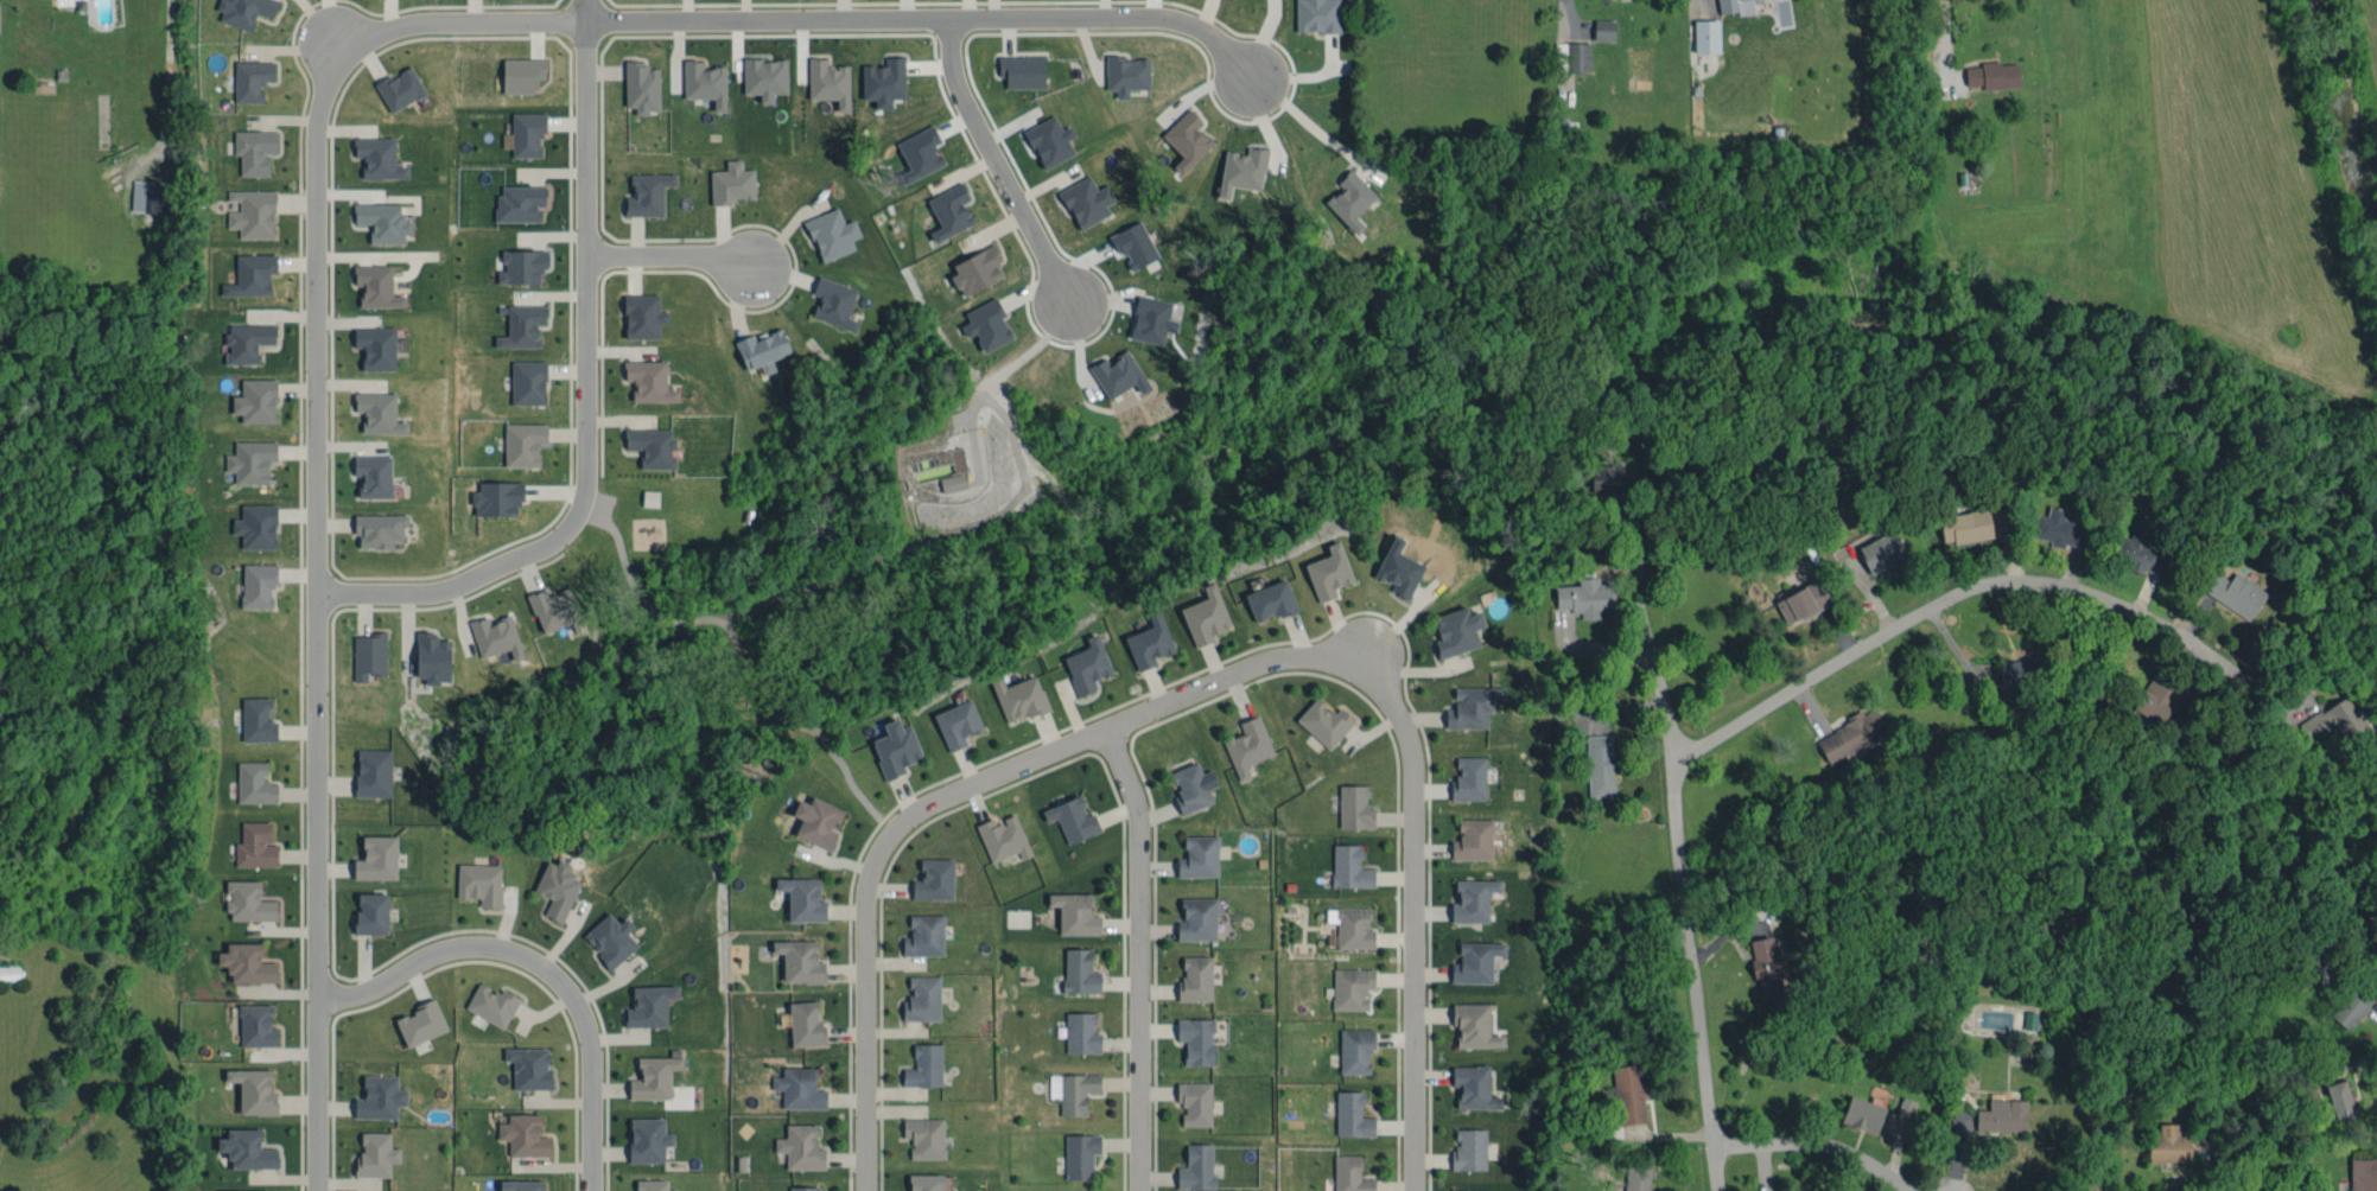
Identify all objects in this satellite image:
road: (1699, 4)
building: (1733, 5)
building: (241, 9)
road: (577, 11)
building: (1314, 13)
building: (1600, 25)
building: (1703, 32)
building: (1574, 52)
road: (165, 66)
building: (1018, 66)
building: (1123, 70)
building: (519, 71)
building: (761, 74)
building: (247, 76)
building: (881, 77)
building: (701, 78)
building: (825, 78)
building: (638, 83)
building: (396, 84)
road: (1304, 119)
building: (523, 129)
building: (1183, 135)
building: (1047, 138)
building: (250, 147)
road: (316, 148)
building: (916, 149)
building: (375, 154)
road: (990, 165)
building: (1239, 166)
building: (729, 179)
building: (643, 190)
building: (144, 191)
building: (1083, 197)
building: (1348, 197)
building: (516, 199)
building: (947, 206)
building: (249, 209)
building: (379, 218)
building: (828, 230)
building: (1131, 242)
road: (673, 256)
building: (517, 262)
building: (973, 266)
building: (247, 270)
building: (374, 282)
building: (831, 299)
building: (640, 312)
building: (1149, 317)
building: (984, 320)
building: (519, 323)
building: (243, 337)
building: (373, 344)
building: (760, 345)
building: (1116, 370)
building: (646, 377)
building: (525, 378)
building: (252, 397)
road: (579, 407)
building: (375, 409)
building: (520, 439)
building: (648, 442)
building: (247, 457)
building: (370, 472)
building: (1604, 473)
building: (949, 478)
building: (494, 495)
building: (647, 495)
building: (253, 522)
building: (1964, 523)
building: (2057, 524)
building: (375, 526)
building: (1880, 548)
building: (2140, 550)
building: (1396, 565)
building: (1326, 568)
building: (254, 582)
building: (2232, 590)
building: (1583, 593)
building: (1267, 597)
building: (1800, 598)
building: (551, 605)
road: (1936, 607)
building: (1202, 612)
building: (1454, 628)
building: (492, 633)
building: (1146, 638)
building: (364, 651)
building: (430, 655)
building: (1083, 662)
building: (2014, 668)
building: (1016, 694)
road: (1164, 698)
building: (2154, 698)
building: (1468, 703)
building: (254, 715)
building: (2334, 716)
building: (1321, 719)
building: (954, 720)
building: (1847, 731)
building: (1244, 743)
building: (892, 745)
building: (1596, 762)
building: (369, 769)
building: (1466, 776)
building: (250, 781)
building: (1189, 784)
building: (1352, 803)
building: (1069, 816)
building: (813, 819)
building: (1000, 834)
building: (1469, 836)
building: (252, 842)
building: (1195, 853)
building: (371, 855)
building: (1346, 864)
building: (930, 877)
building: (476, 879)
building: (553, 885)
building: (800, 896)
building: (1470, 896)
building: (244, 898)
building: (368, 910)
building: (1072, 911)
building: (1194, 915)
building: (1348, 923)
road: (1691, 926)
building: (921, 932)
building: (608, 936)
road: (1138, 955)
building: (796, 957)
building: (1472, 958)
building: (243, 960)
road: (1407, 961)
building: (1763, 963)
road: (538, 966)
building: (7, 968)
building: (1076, 968)
building: (1191, 975)
building: (1348, 985)
building: (919, 995)
road: (862, 999)
building: (488, 1001)
building: (646, 1002)
building: (2347, 1005)
building: (418, 1019)
building: (802, 1020)
building: (253, 1023)
building: (1472, 1024)
building: (1078, 1030)
building: (1193, 1037)
building: (1352, 1046)
building: (921, 1063)
building: (526, 1064)
building: (650, 1074)
building: (1470, 1084)
building: (795, 1085)
building: (250, 1087)
building: (1069, 1088)
building: (1626, 1091)
building: (376, 1094)
building: (2338, 1097)
building: (1191, 1100)
building: (1860, 1110)
building: (1348, 1112)
building: (1903, 1112)
building: (2000, 1113)
building: (521, 1132)
building: (921, 1134)
building: (644, 1136)
building: (2166, 1141)
building: (797, 1144)
building: (243, 1146)
building: (1466, 1146)
road: (1819, 1147)
building: (371, 1151)
building: (1076, 1153)
building: (1193, 1164)
road: (2225, 1164)
building: (2359, 1172)
building: (1347, 1173)
building: (1633, 1177)
building: (922, 1180)
building: (517, 1183)
building: (650, 1184)
building: (799, 1186)
building: (242, 1189)
building: (1467, 1189)

